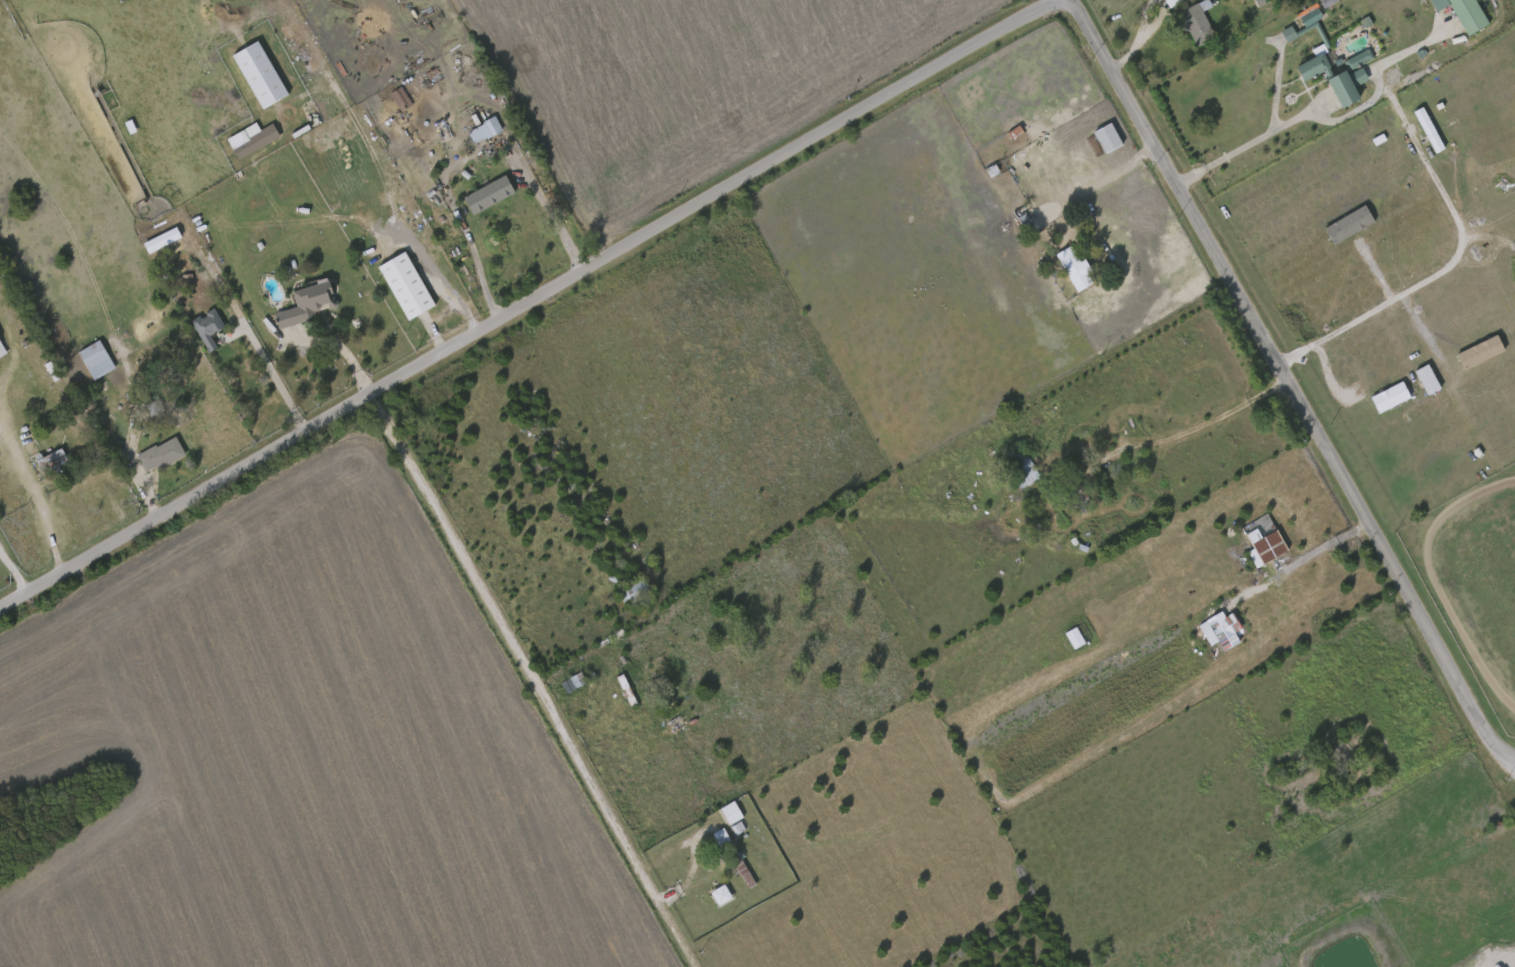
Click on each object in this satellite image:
building: (1327, 2)
building: (1463, 13)
building: (1197, 21)
building: (1304, 22)
road: (1142, 38)
building: (1359, 60)
building: (1311, 64)
building: (260, 75)
building: (1359, 76)
building: (1341, 86)
building: (400, 99)
road: (1407, 126)
building: (484, 128)
building: (1428, 130)
building: (1107, 136)
building: (254, 140)
road: (1243, 147)
road: (1113, 167)
building: (487, 193)
road: (549, 212)
building: (1026, 218)
building: (1348, 225)
building: (162, 241)
building: (1074, 267)
road: (478, 271)
road: (436, 275)
building: (404, 284)
road: (1419, 286)
building: (306, 302)
road: (529, 305)
building: (206, 326)
road: (245, 327)
road: (337, 344)
building: (1, 352)
building: (95, 358)
road: (1288, 383)
building: (1390, 397)
building: (153, 403)
road: (1203, 420)
building: (160, 453)
building: (50, 459)
road: (131, 465)
building: (1020, 465)
road: (34, 494)
building: (1266, 547)
road: (1322, 547)
road: (14, 575)
building: (636, 589)
building: (1221, 630)
building: (1074, 638)
road: (531, 681)
building: (574, 681)
building: (673, 723)
building: (1343, 753)
building: (729, 812)
building: (720, 836)
building: (740, 867)
building: (720, 894)

